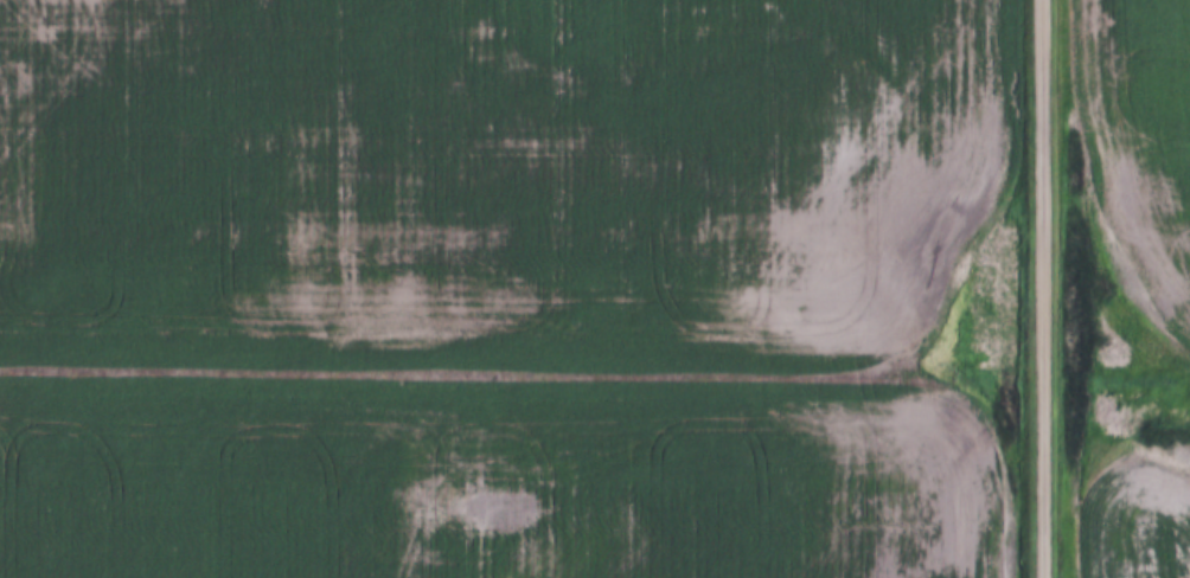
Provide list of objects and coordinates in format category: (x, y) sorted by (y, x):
road: (1042, 289)

